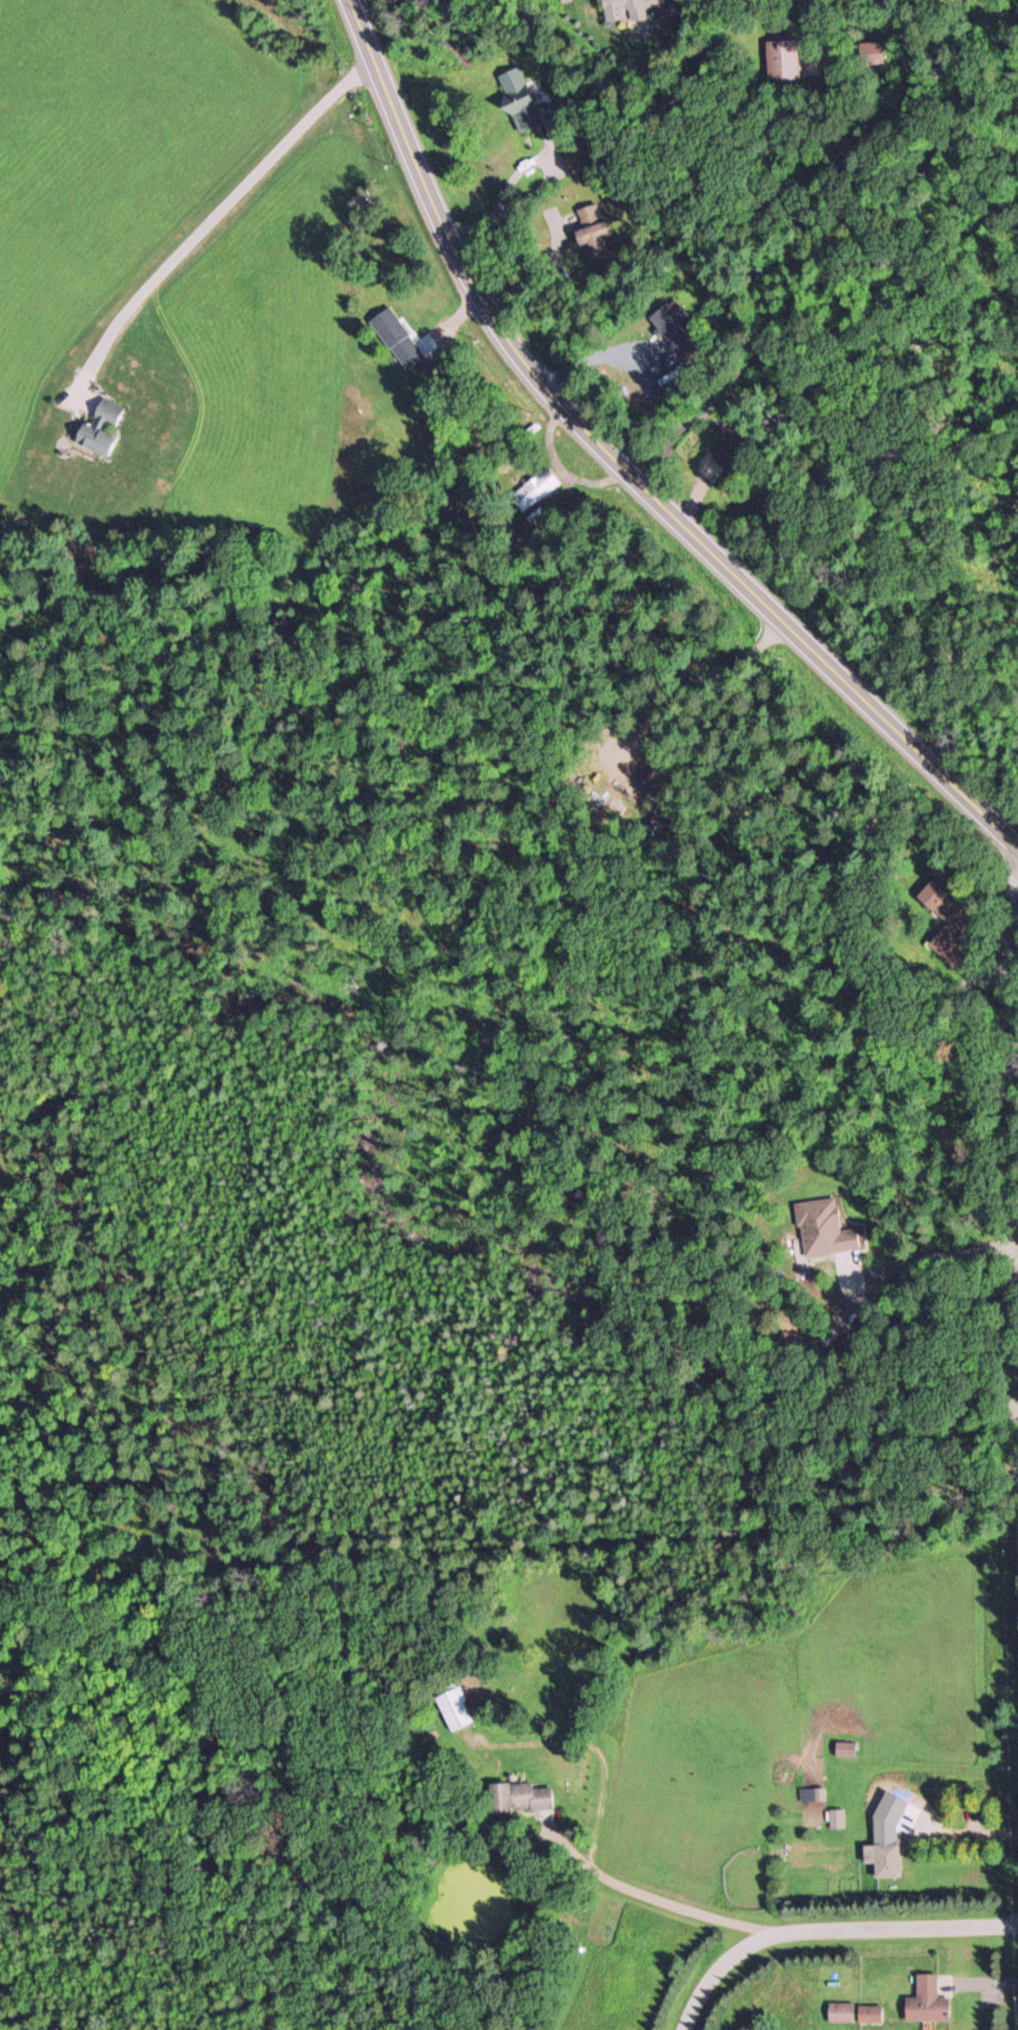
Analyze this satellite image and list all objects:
building: (632, 7)
building: (788, 62)
building: (517, 97)
building: (573, 154)
building: (587, 212)
building: (591, 236)
building: (672, 326)
building: (395, 336)
building: (730, 425)
building: (99, 426)
road: (621, 470)
building: (532, 489)
building: (656, 773)
building: (945, 922)
road: (1016, 1036)
building: (821, 1227)
building: (453, 1708)
building: (814, 1794)
building: (518, 1797)
building: (835, 1819)
building: (880, 1849)
road: (828, 1933)
building: (926, 2001)
building: (839, 2011)
building: (868, 2013)

